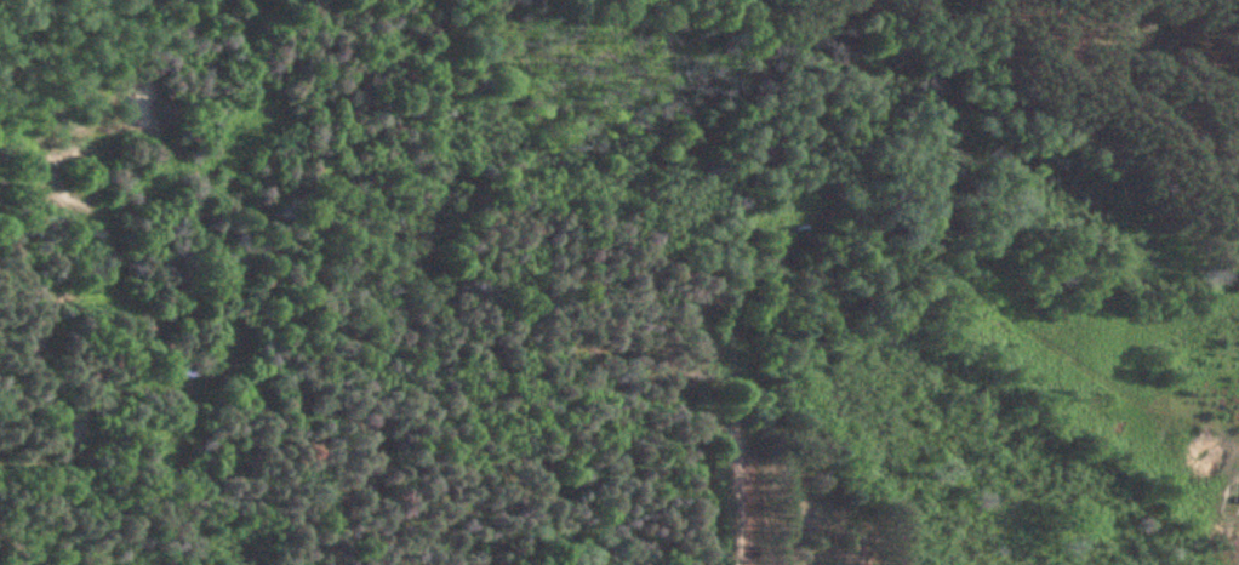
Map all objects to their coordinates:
road: (741, 403)
park: (822, 503)

